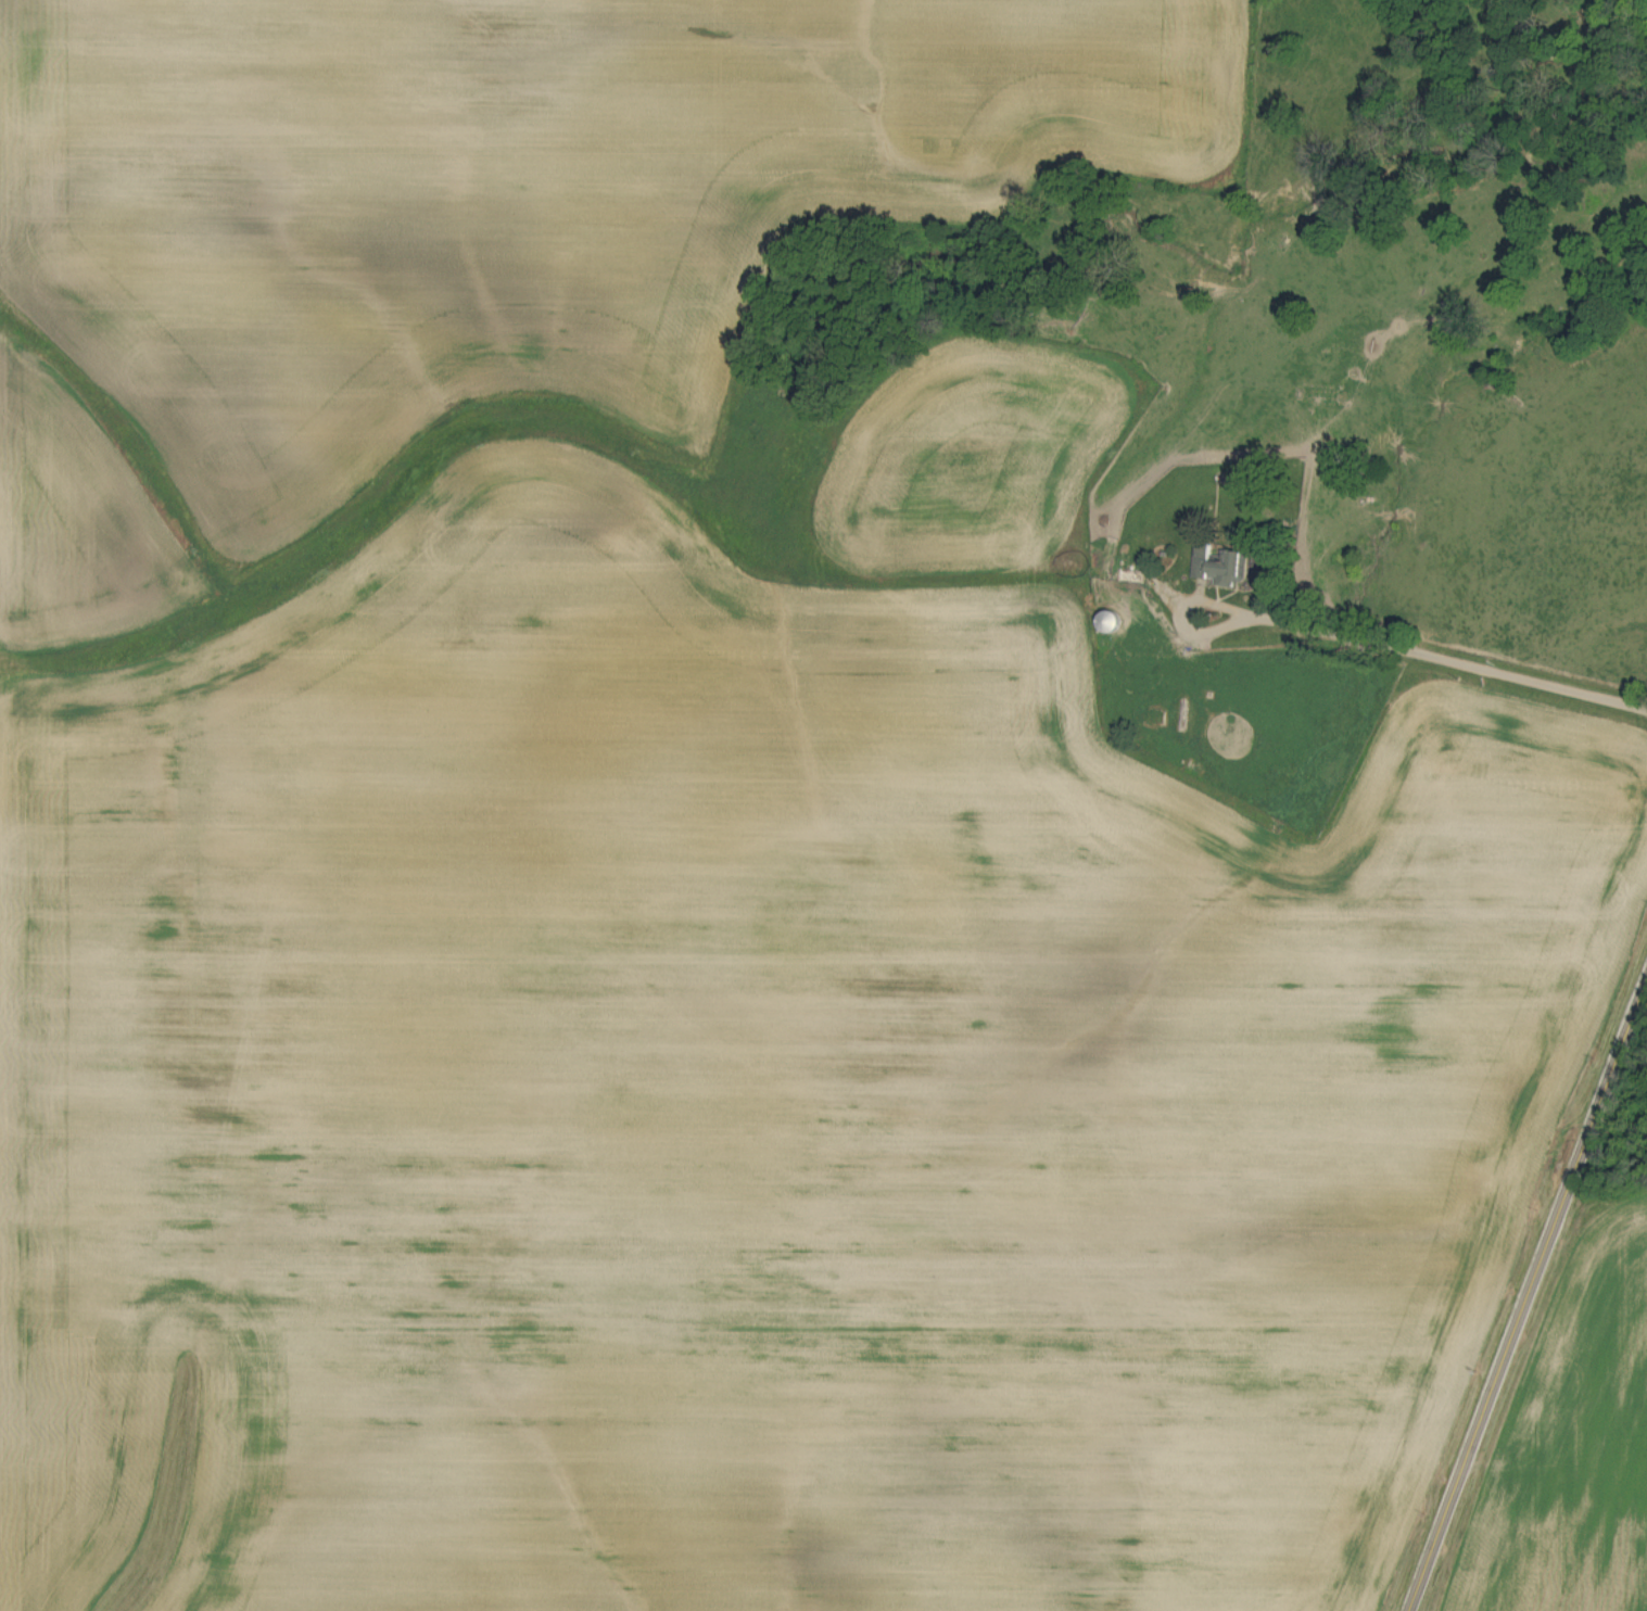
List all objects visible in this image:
building: (1224, 567)
building: (1136, 578)
road: (1180, 618)
building: (1116, 622)
road: (1447, 661)
road: (1525, 1282)

